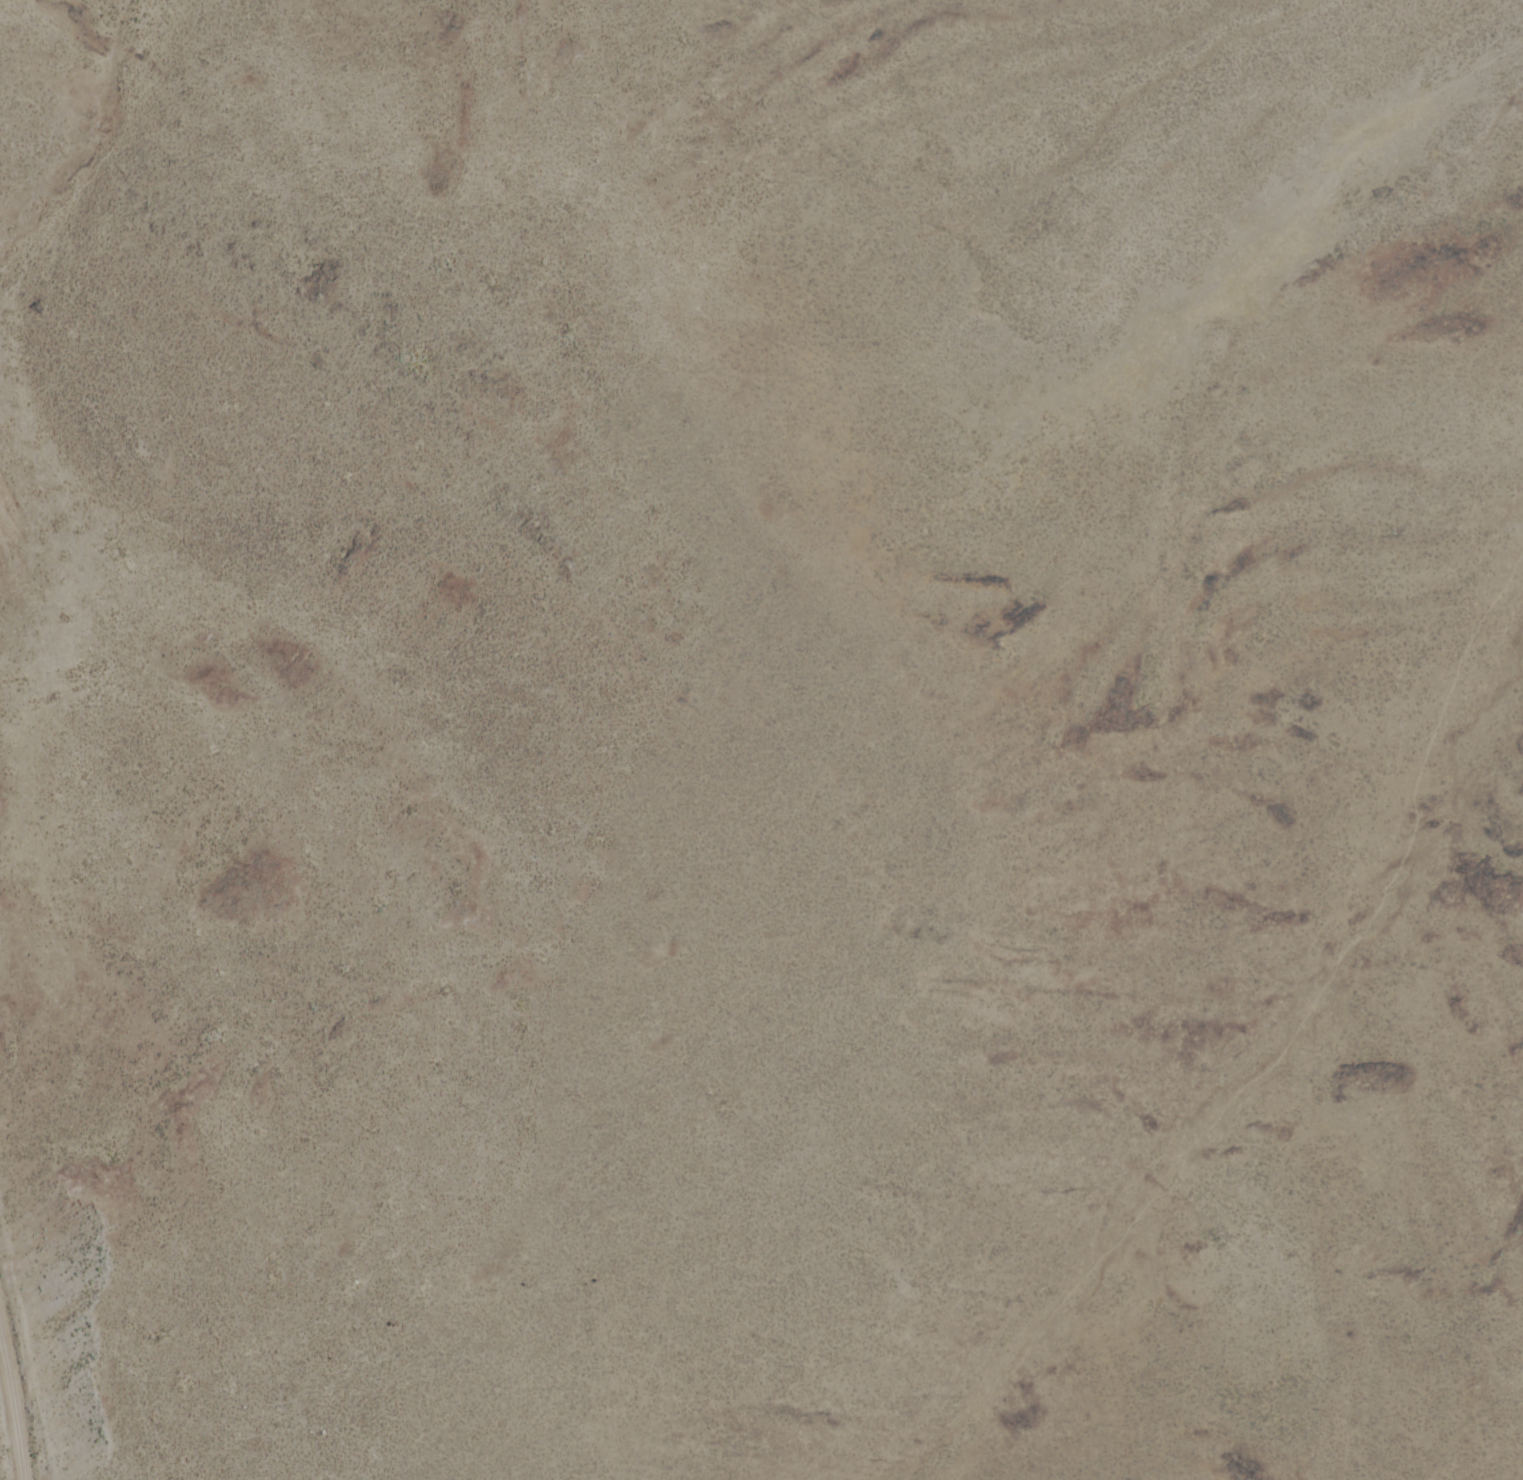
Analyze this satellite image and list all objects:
road: (12, 1415)

